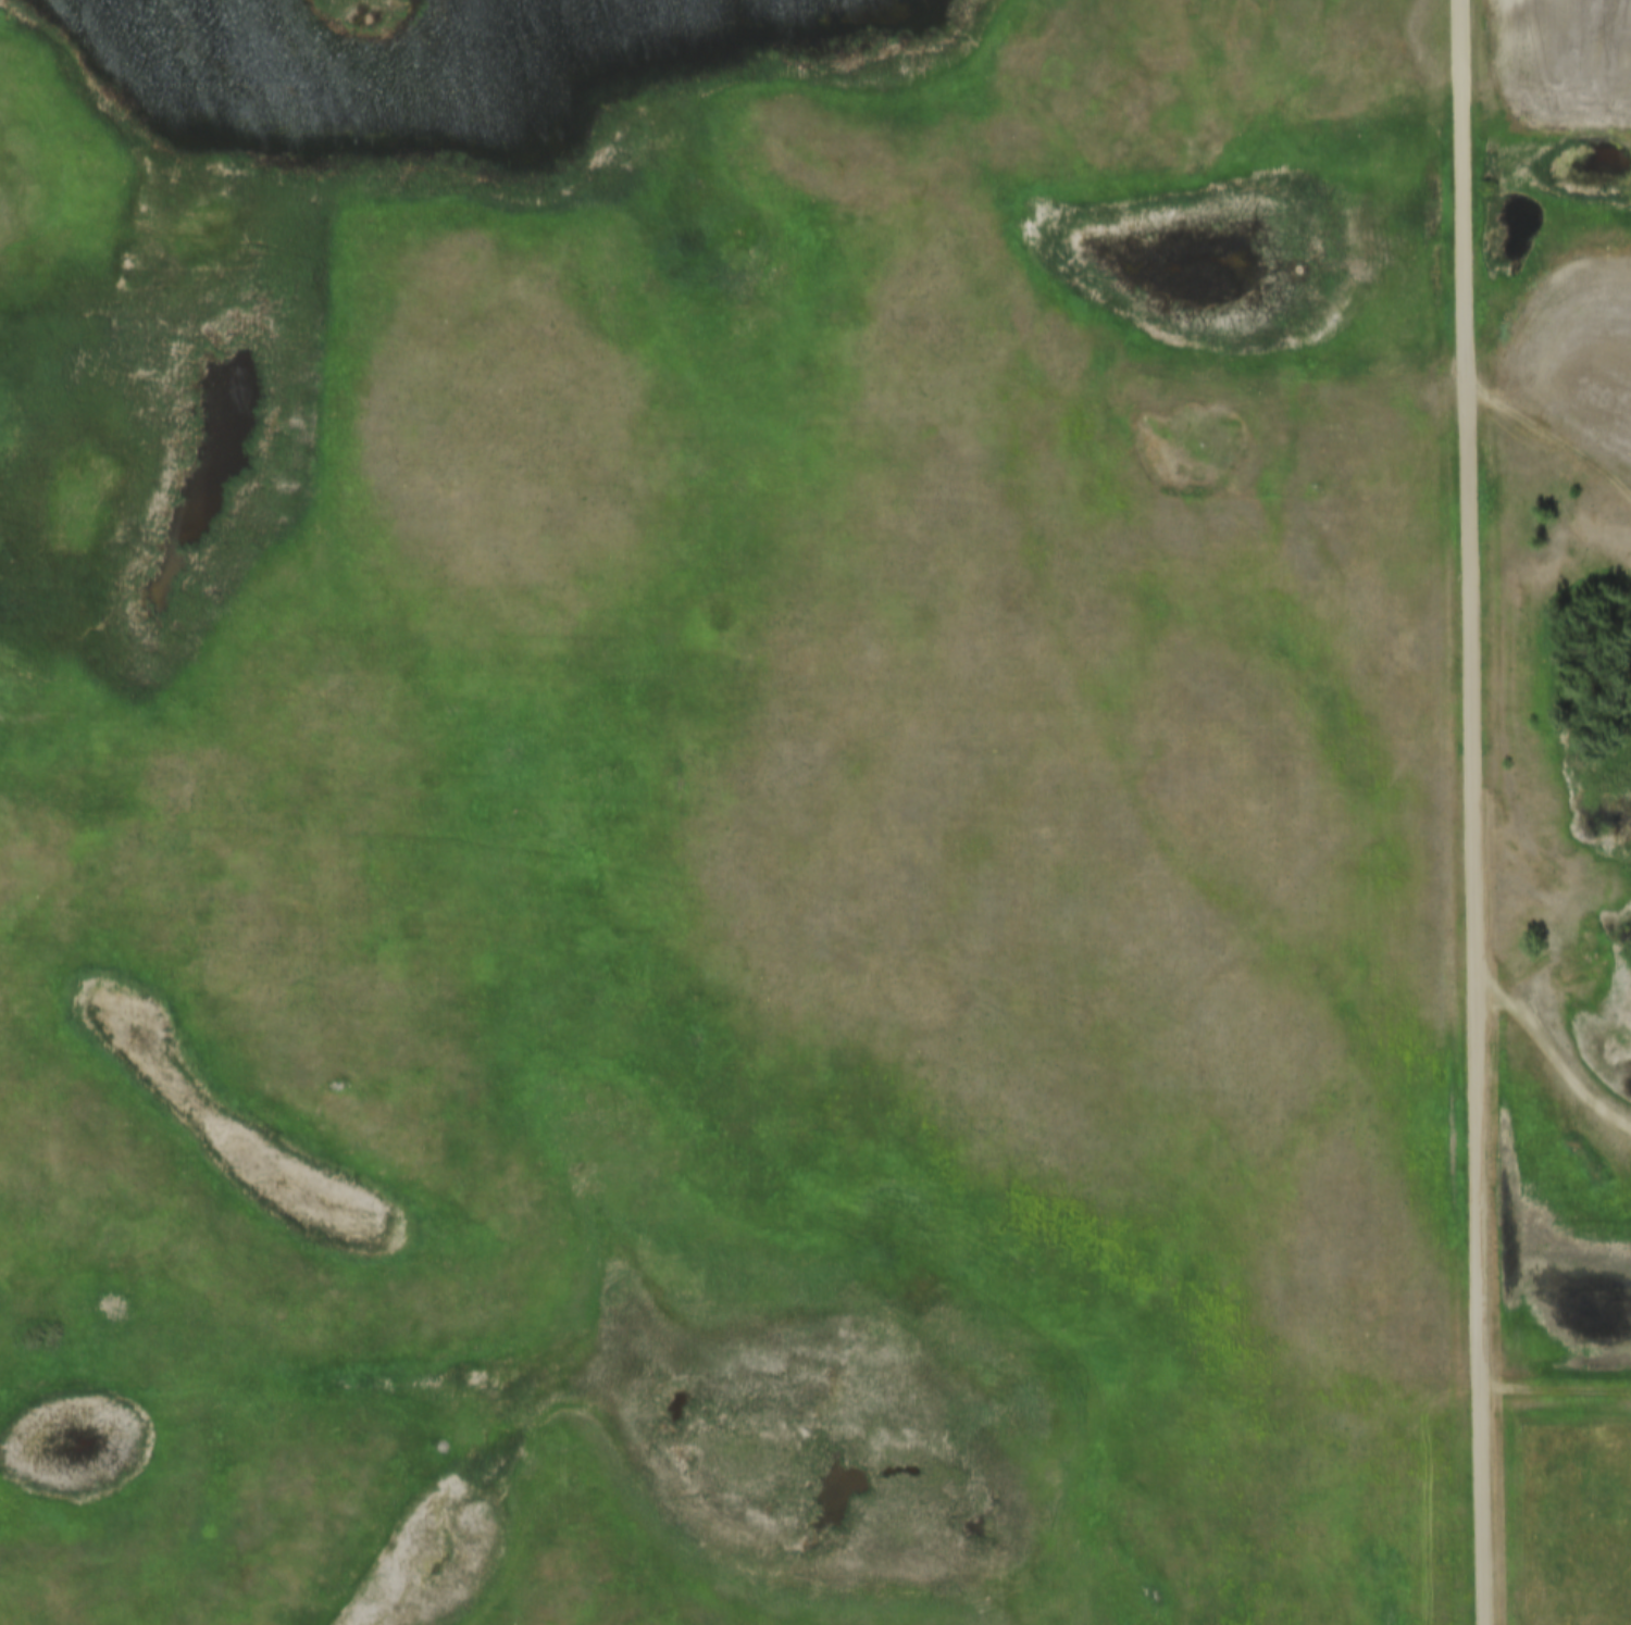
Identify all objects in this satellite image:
road: (1553, 432)
road: (1478, 812)
quarry: (1601, 841)
road: (1558, 1045)
road: (1558, 1390)

